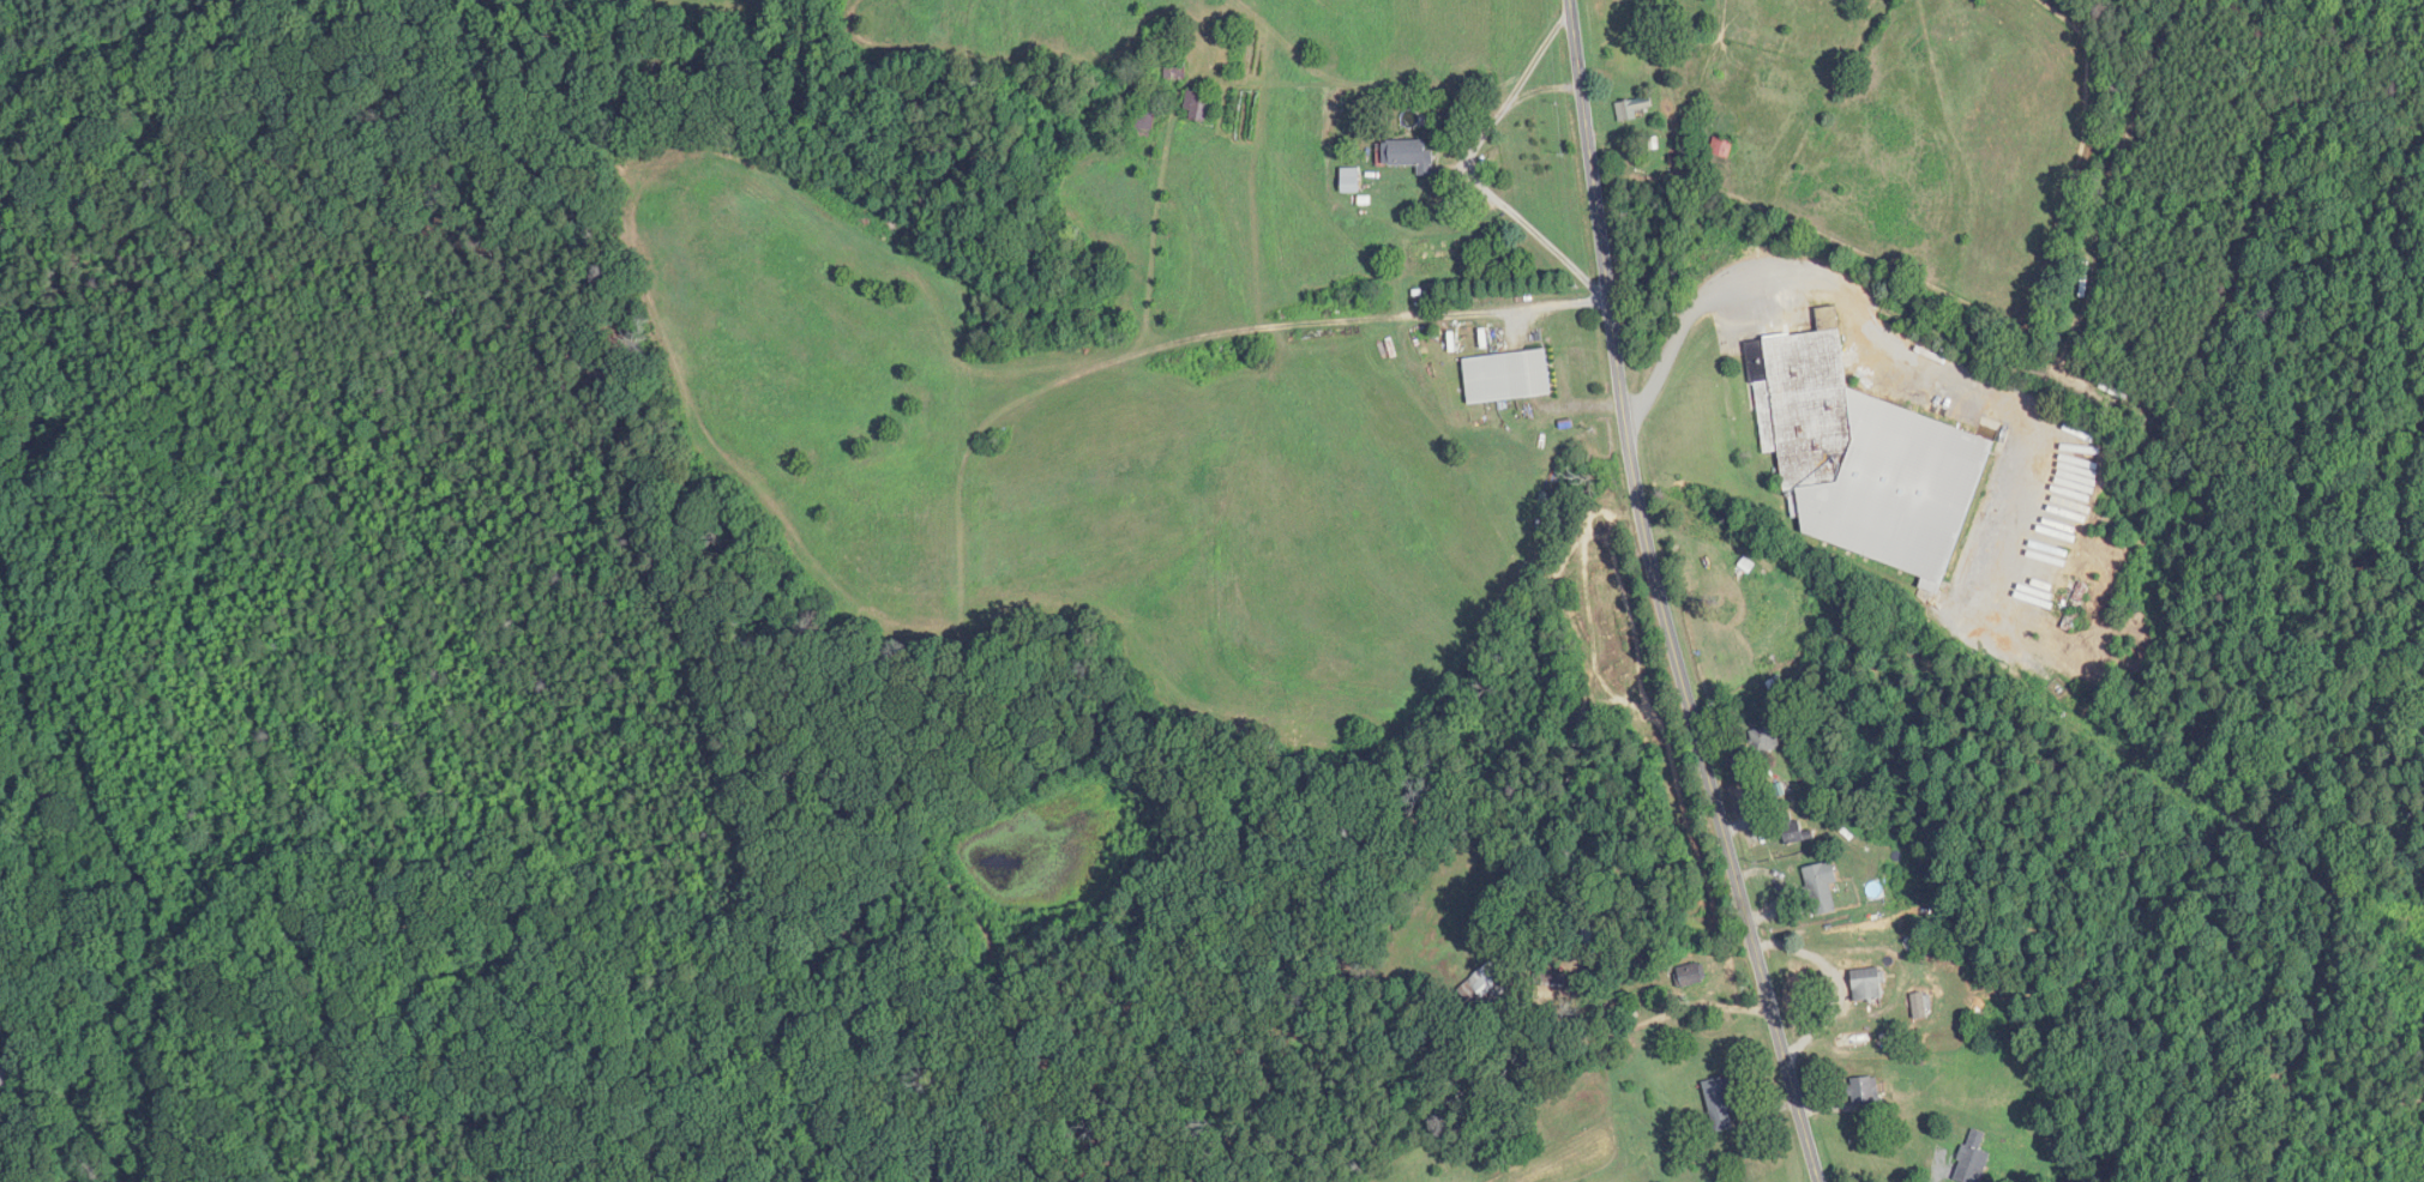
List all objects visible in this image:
building: (1174, 72)
road: (1545, 89)
building: (1201, 107)
building: (1632, 108)
building: (1144, 120)
building: (1722, 147)
building: (1407, 155)
road: (1473, 167)
building: (1351, 180)
road: (1556, 304)
road: (1680, 327)
building: (1508, 376)
building: (1865, 459)
road: (1660, 597)
building: (1764, 740)
building: (1791, 828)
building: (1822, 887)
building: (1691, 976)
building: (1491, 984)
building: (1867, 985)
building: (1919, 1006)
road: (6, 1087)
building: (1864, 1091)
building: (1721, 1105)
building: (1973, 1158)

